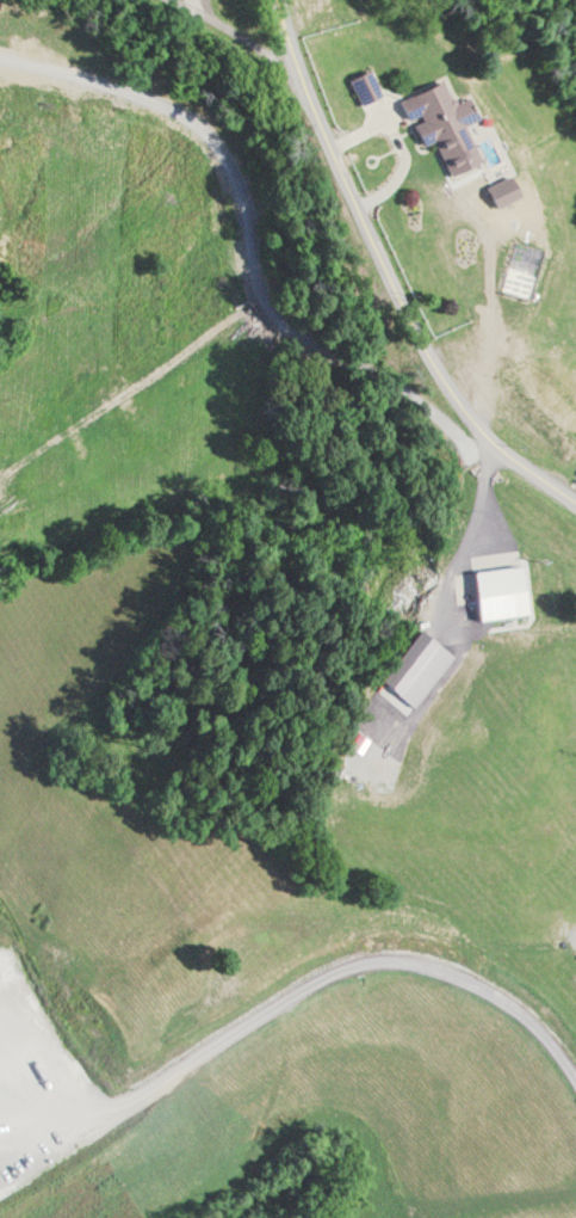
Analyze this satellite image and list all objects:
building: (199, 11)
building: (363, 85)
building: (438, 123)
road: (378, 278)
building: (496, 592)
building: (405, 662)

